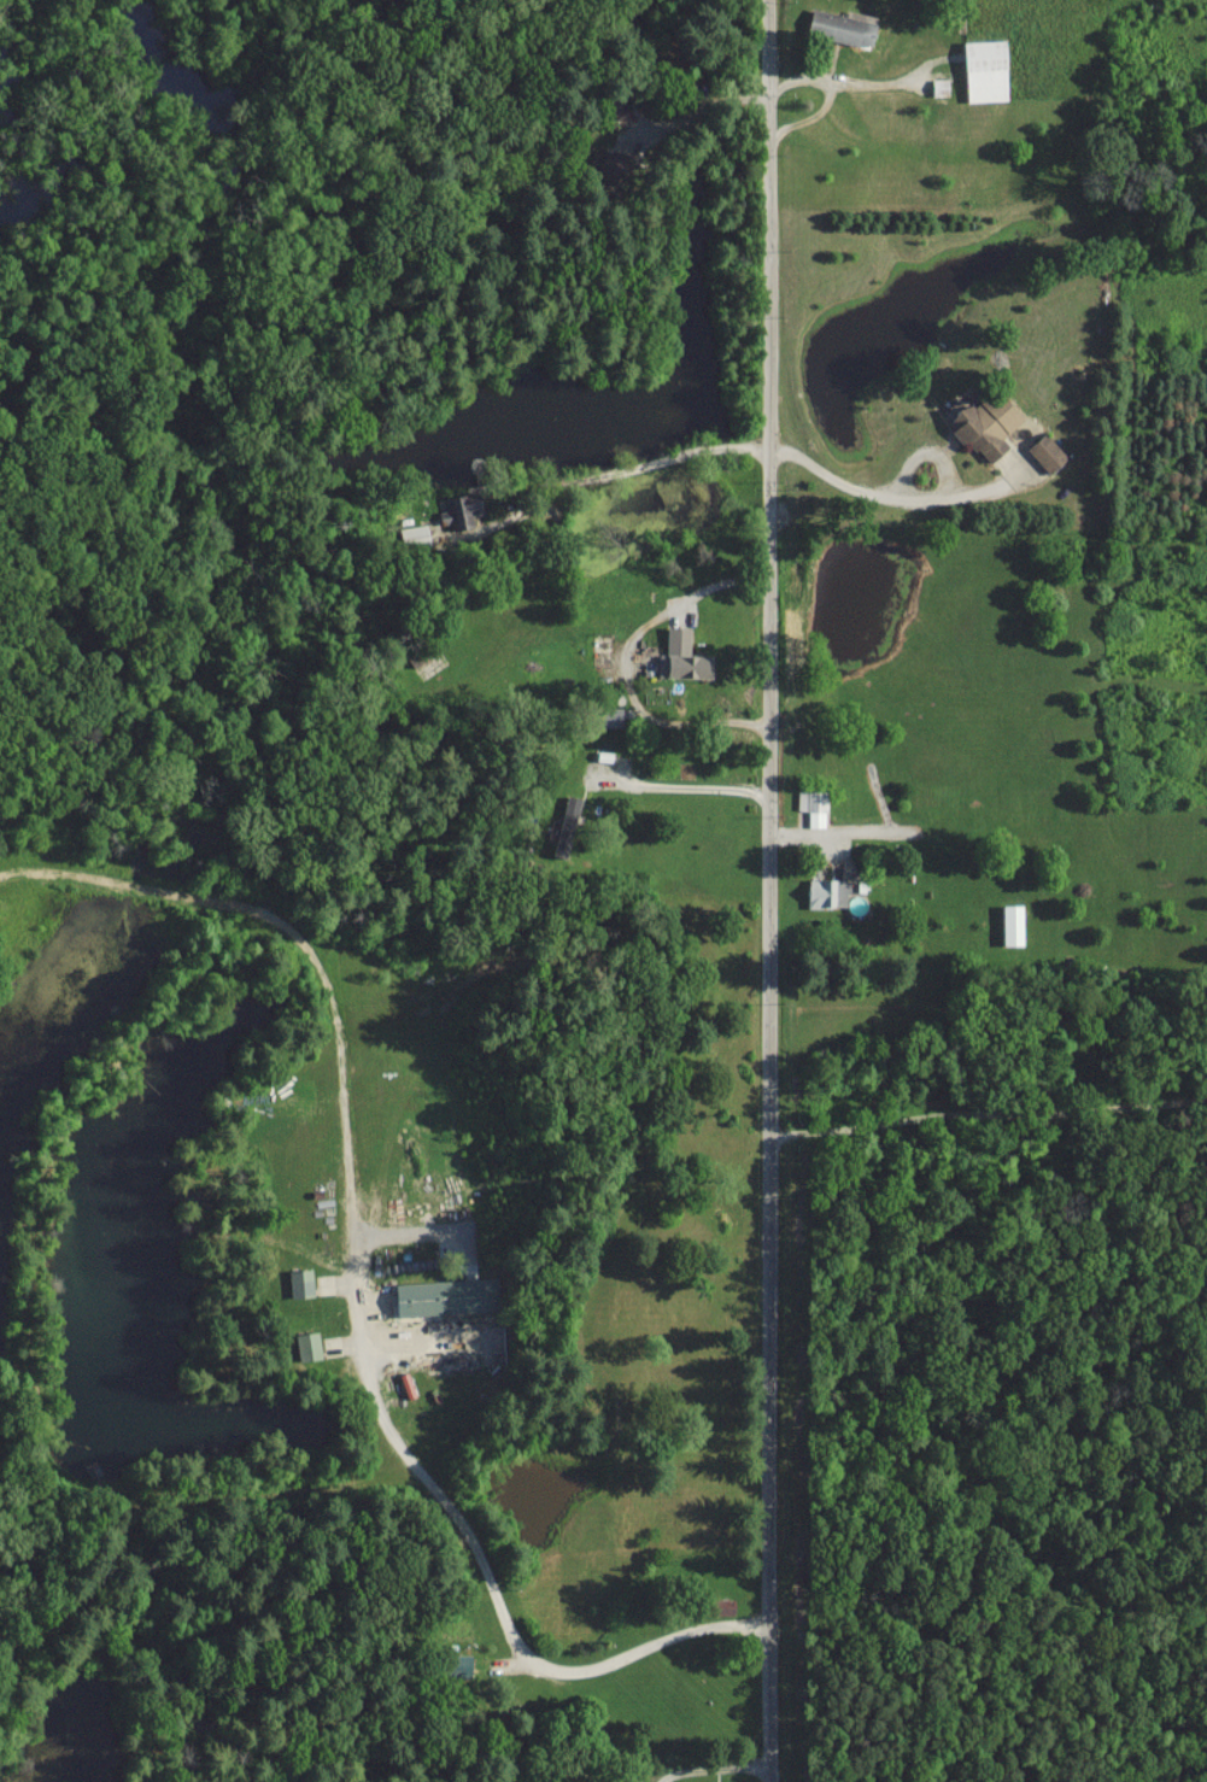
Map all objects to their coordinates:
building: (842, 27)
building: (986, 70)
road: (804, 80)
road: (836, 90)
building: (616, 104)
road: (697, 106)
building: (617, 168)
building: (986, 424)
building: (1047, 452)
road: (592, 480)
road: (898, 498)
building: (462, 509)
building: (415, 537)
building: (682, 656)
road: (628, 663)
road: (685, 787)
building: (813, 805)
road: (842, 833)
road: (768, 890)
building: (827, 892)
building: (1013, 924)
road: (986, 1114)
building: (301, 1283)
building: (447, 1296)
building: (307, 1346)
road: (494, 1588)
building: (461, 1665)
road: (714, 1768)

